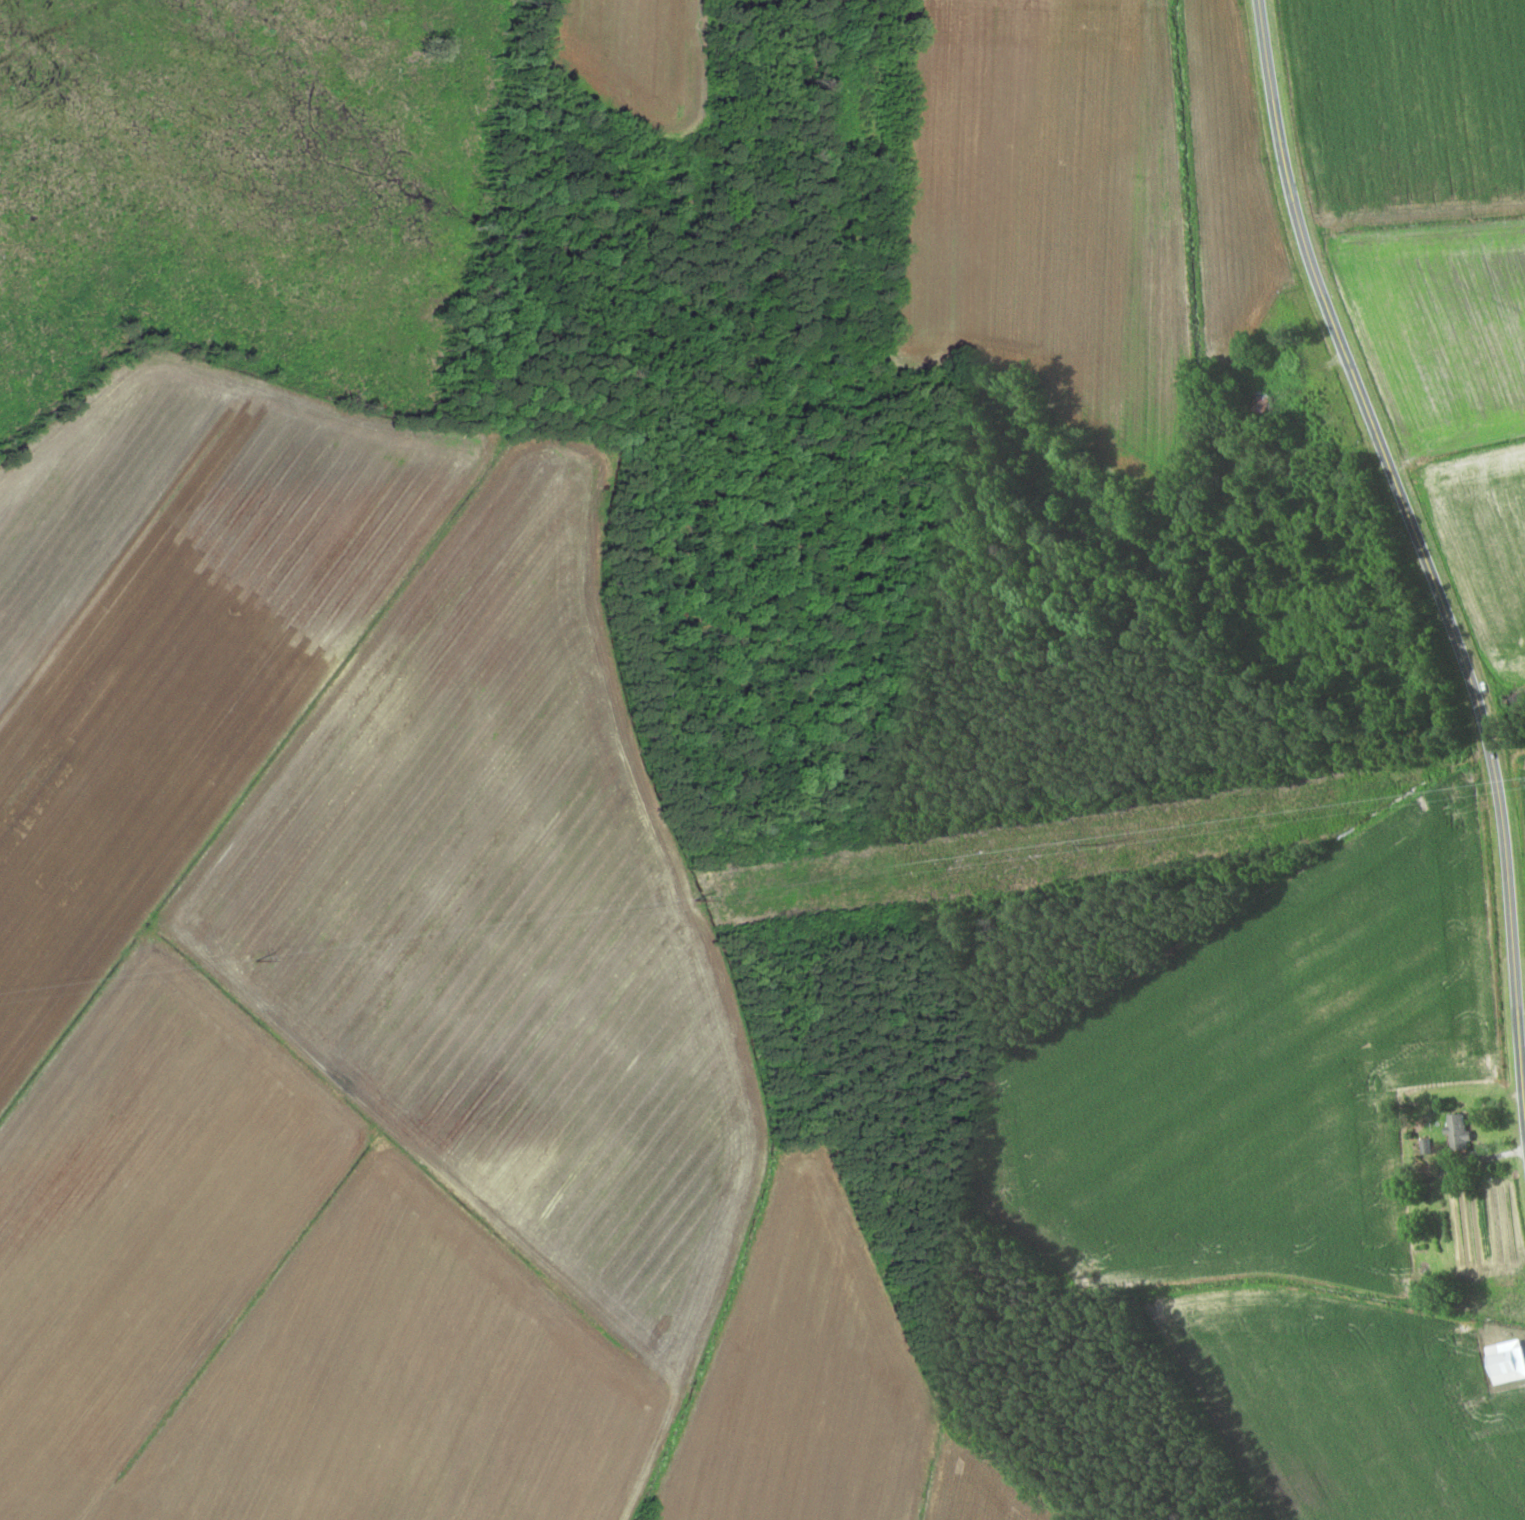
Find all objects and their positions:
road: (1423, 551)
power tower: (1099, 844)
power tower: (697, 897)
power tower: (255, 960)
building: (1507, 1362)

